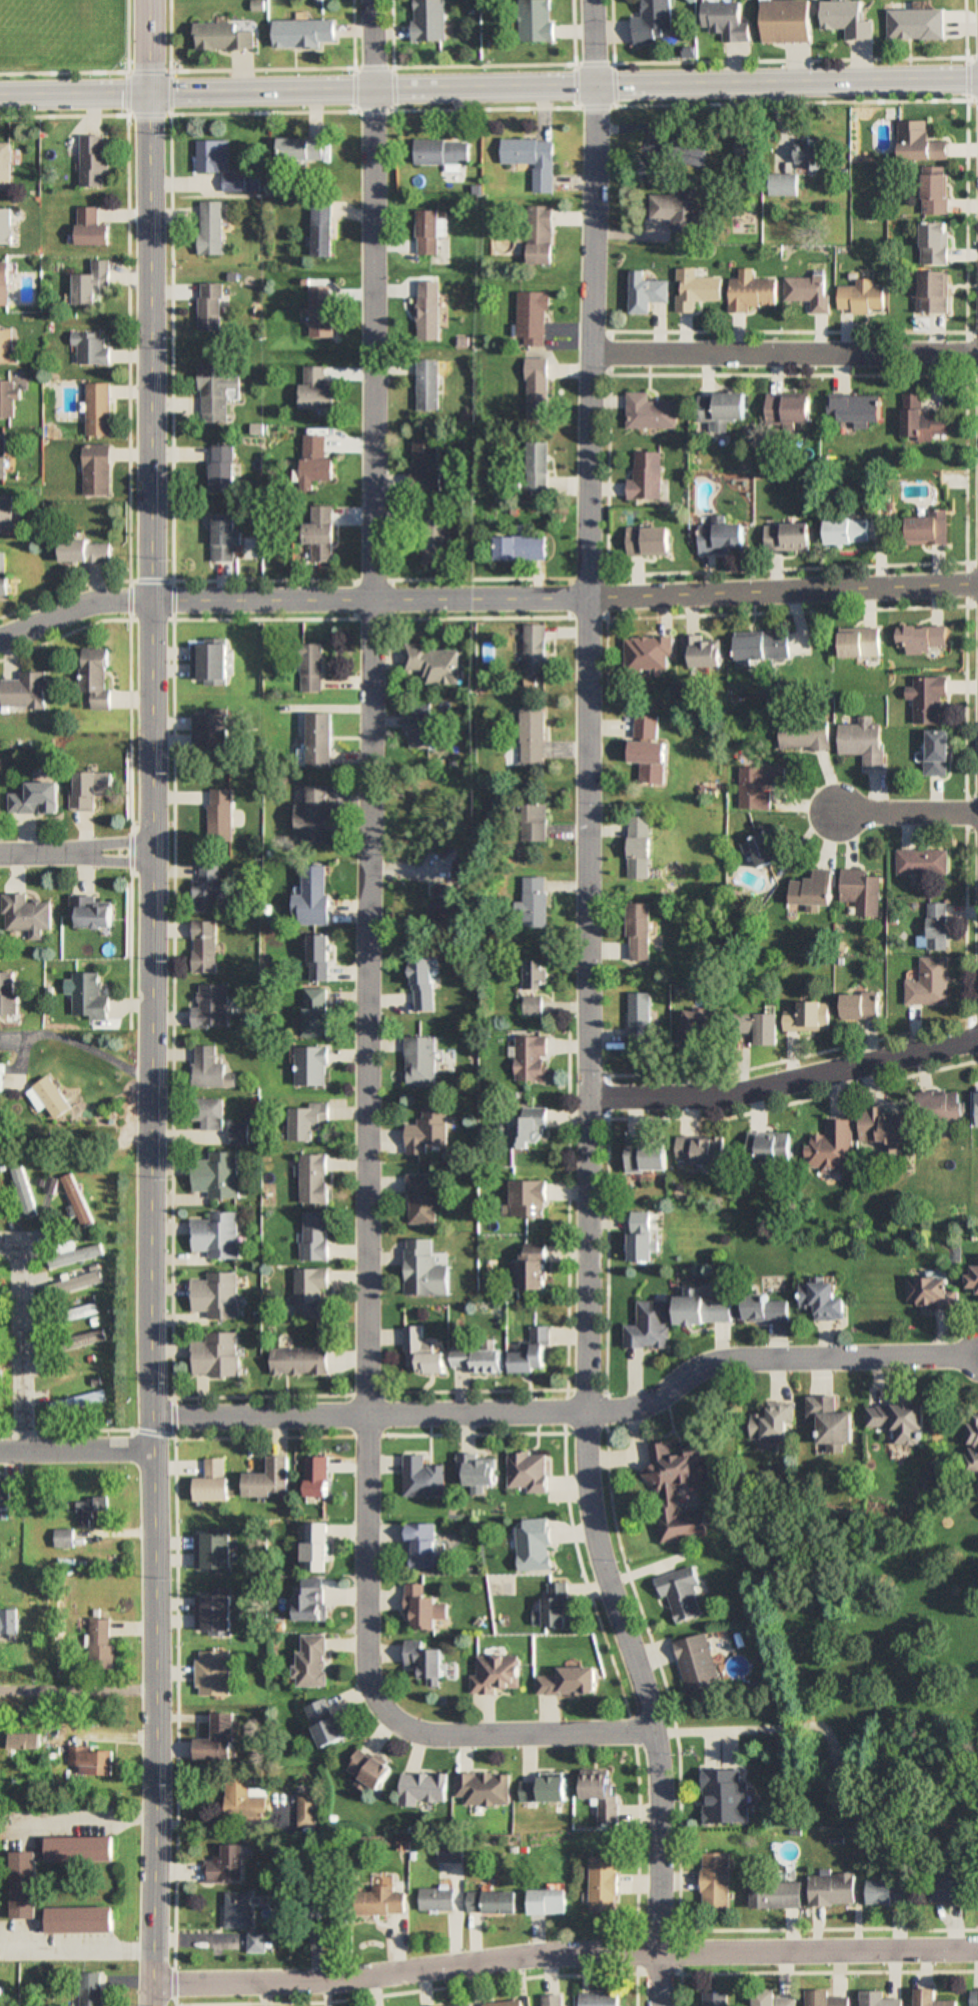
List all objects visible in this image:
building: (849, 18)
building: (430, 20)
building: (537, 20)
building: (728, 20)
building: (789, 21)
building: (653, 22)
park: (49, 24)
building: (918, 24)
building: (304, 33)
building: (224, 37)
park: (64, 44)
road: (552, 61)
road: (63, 67)
road: (488, 82)
road: (170, 88)
road: (125, 89)
road: (488, 104)
building: (920, 143)
building: (303, 149)
building: (701, 150)
building: (442, 152)
building: (810, 154)
building: (213, 157)
building: (533, 160)
building: (95, 161)
building: (5, 167)
building: (656, 174)
building: (235, 183)
building: (784, 185)
building: (936, 194)
building: (680, 210)
building: (6, 227)
building: (92, 228)
building: (210, 229)
building: (322, 229)
building: (429, 232)
building: (541, 235)
building: (936, 243)
building: (92, 283)
building: (5, 284)
building: (695, 290)
building: (809, 292)
building: (647, 293)
building: (932, 293)
building: (753, 294)
building: (862, 297)
building: (209, 307)
building: (429, 311)
building: (321, 312)
building: (534, 317)
building: (7, 346)
building: (91, 349)
road: (784, 352)
building: (427, 385)
building: (316, 389)
building: (539, 390)
building: (213, 392)
building: (7, 399)
building: (98, 409)
building: (724, 409)
building: (791, 409)
building: (651, 411)
building: (858, 411)
building: (924, 421)
building: (2, 456)
building: (315, 462)
building: (540, 466)
building: (425, 467)
building: (222, 468)
building: (95, 470)
building: (648, 477)
building: (7, 512)
building: (930, 528)
building: (849, 530)
building: (320, 535)
building: (431, 535)
building: (224, 537)
building: (725, 537)
building: (790, 537)
building: (652, 541)
building: (523, 548)
building: (87, 551)
building: (4, 577)
road: (485, 600)
building: (926, 639)
building: (862, 644)
building: (765, 647)
building: (536, 648)
building: (706, 652)
building: (650, 655)
building: (428, 657)
building: (304, 658)
building: (209, 663)
building: (94, 677)
building: (25, 691)
building: (928, 700)
building: (414, 703)
road: (586, 706)
building: (414, 727)
building: (647, 727)
building: (209, 734)
building: (313, 735)
building: (536, 736)
building: (805, 737)
building: (864, 741)
building: (940, 753)
building: (651, 760)
building: (761, 785)
building: (89, 790)
building: (36, 799)
building: (307, 810)
road: (906, 811)
building: (215, 815)
building: (538, 822)
building: (639, 848)
building: (764, 850)
road: (73, 855)
building: (923, 861)
building: (456, 862)
building: (465, 871)
building: (206, 889)
building: (816, 889)
building: (309, 890)
building: (863, 891)
building: (445, 893)
building: (536, 902)
building: (88, 914)
building: (24, 915)
building: (939, 926)
building: (639, 932)
building: (202, 947)
building: (315, 951)
building: (535, 975)
building: (419, 976)
building: (930, 984)
road: (367, 994)
building: (8, 997)
building: (88, 997)
road: (146, 1003)
building: (312, 1006)
building: (533, 1006)
building: (863, 1006)
building: (210, 1008)
building: (639, 1019)
building: (808, 1019)
building: (699, 1027)
building: (763, 1029)
building: (415, 1055)
building: (531, 1059)
building: (306, 1060)
building: (209, 1070)
building: (3, 1078)
road: (784, 1079)
building: (54, 1098)
building: (944, 1107)
building: (977, 1109)
building: (207, 1114)
building: (302, 1114)
building: (421, 1125)
building: (886, 1127)
building: (527, 1130)
building: (238, 1134)
building: (832, 1147)
building: (770, 1148)
building: (703, 1153)
building: (648, 1155)
building: (310, 1173)
building: (218, 1176)
building: (21, 1190)
building: (416, 1194)
building: (529, 1200)
building: (76, 1201)
building: (310, 1230)
building: (216, 1236)
building: (641, 1237)
building: (419, 1264)
building: (535, 1267)
building: (974, 1283)
building: (304, 1286)
building: (933, 1293)
building: (215, 1296)
building: (823, 1301)
building: (764, 1308)
building: (705, 1311)
building: (83, 1312)
building: (649, 1327)
building: (89, 1338)
road: (22, 1339)
building: (526, 1345)
building: (416, 1346)
building: (475, 1352)
building: (294, 1355)
building: (216, 1356)
building: (76, 1402)
road: (570, 1412)
building: (898, 1422)
building: (831, 1423)
building: (773, 1425)
building: (974, 1446)
road: (75, 1450)
building: (478, 1471)
building: (529, 1473)
building: (318, 1478)
building: (423, 1479)
building: (271, 1480)
building: (213, 1482)
building: (666, 1493)
building: (5, 1497)
building: (88, 1511)
building: (422, 1545)
building: (535, 1545)
building: (318, 1546)
building: (213, 1553)
building: (680, 1593)
building: (313, 1603)
building: (556, 1604)
building: (424, 1608)
building: (212, 1614)
building: (8, 1622)
building: (100, 1644)
building: (313, 1661)
building: (427, 1661)
building: (697, 1663)
building: (212, 1673)
building: (497, 1674)
building: (569, 1682)
road: (77, 1691)
road: (642, 1705)
building: (328, 1722)
road: (716, 1729)
building: (217, 1736)
building: (27, 1741)
building: (89, 1761)
building: (372, 1769)
building: (424, 1788)
building: (484, 1789)
building: (545, 1790)
building: (600, 1790)
building: (725, 1796)
building: (841, 1797)
building: (243, 1799)
building: (305, 1808)
road: (92, 1811)
building: (450, 1852)
building: (226, 1865)
building: (715, 1881)
building: (24, 1884)
building: (952, 1884)
building: (605, 1885)
building: (831, 1890)
building: (886, 1892)
building: (776, 1895)
building: (437, 1899)
building: (383, 1900)
building: (551, 1902)
building: (493, 1903)
building: (238, 1910)
building: (259, 1943)
road: (79, 1944)
road: (563, 1955)
building: (93, 1989)
building: (975, 1997)
building: (933, 1998)
building: (602, 1999)
building: (716, 1999)
building: (772, 1999)
building: (826, 1999)
building: (879, 1999)
building: (555, 2000)
building: (507, 2003)
building: (467, 2005)

